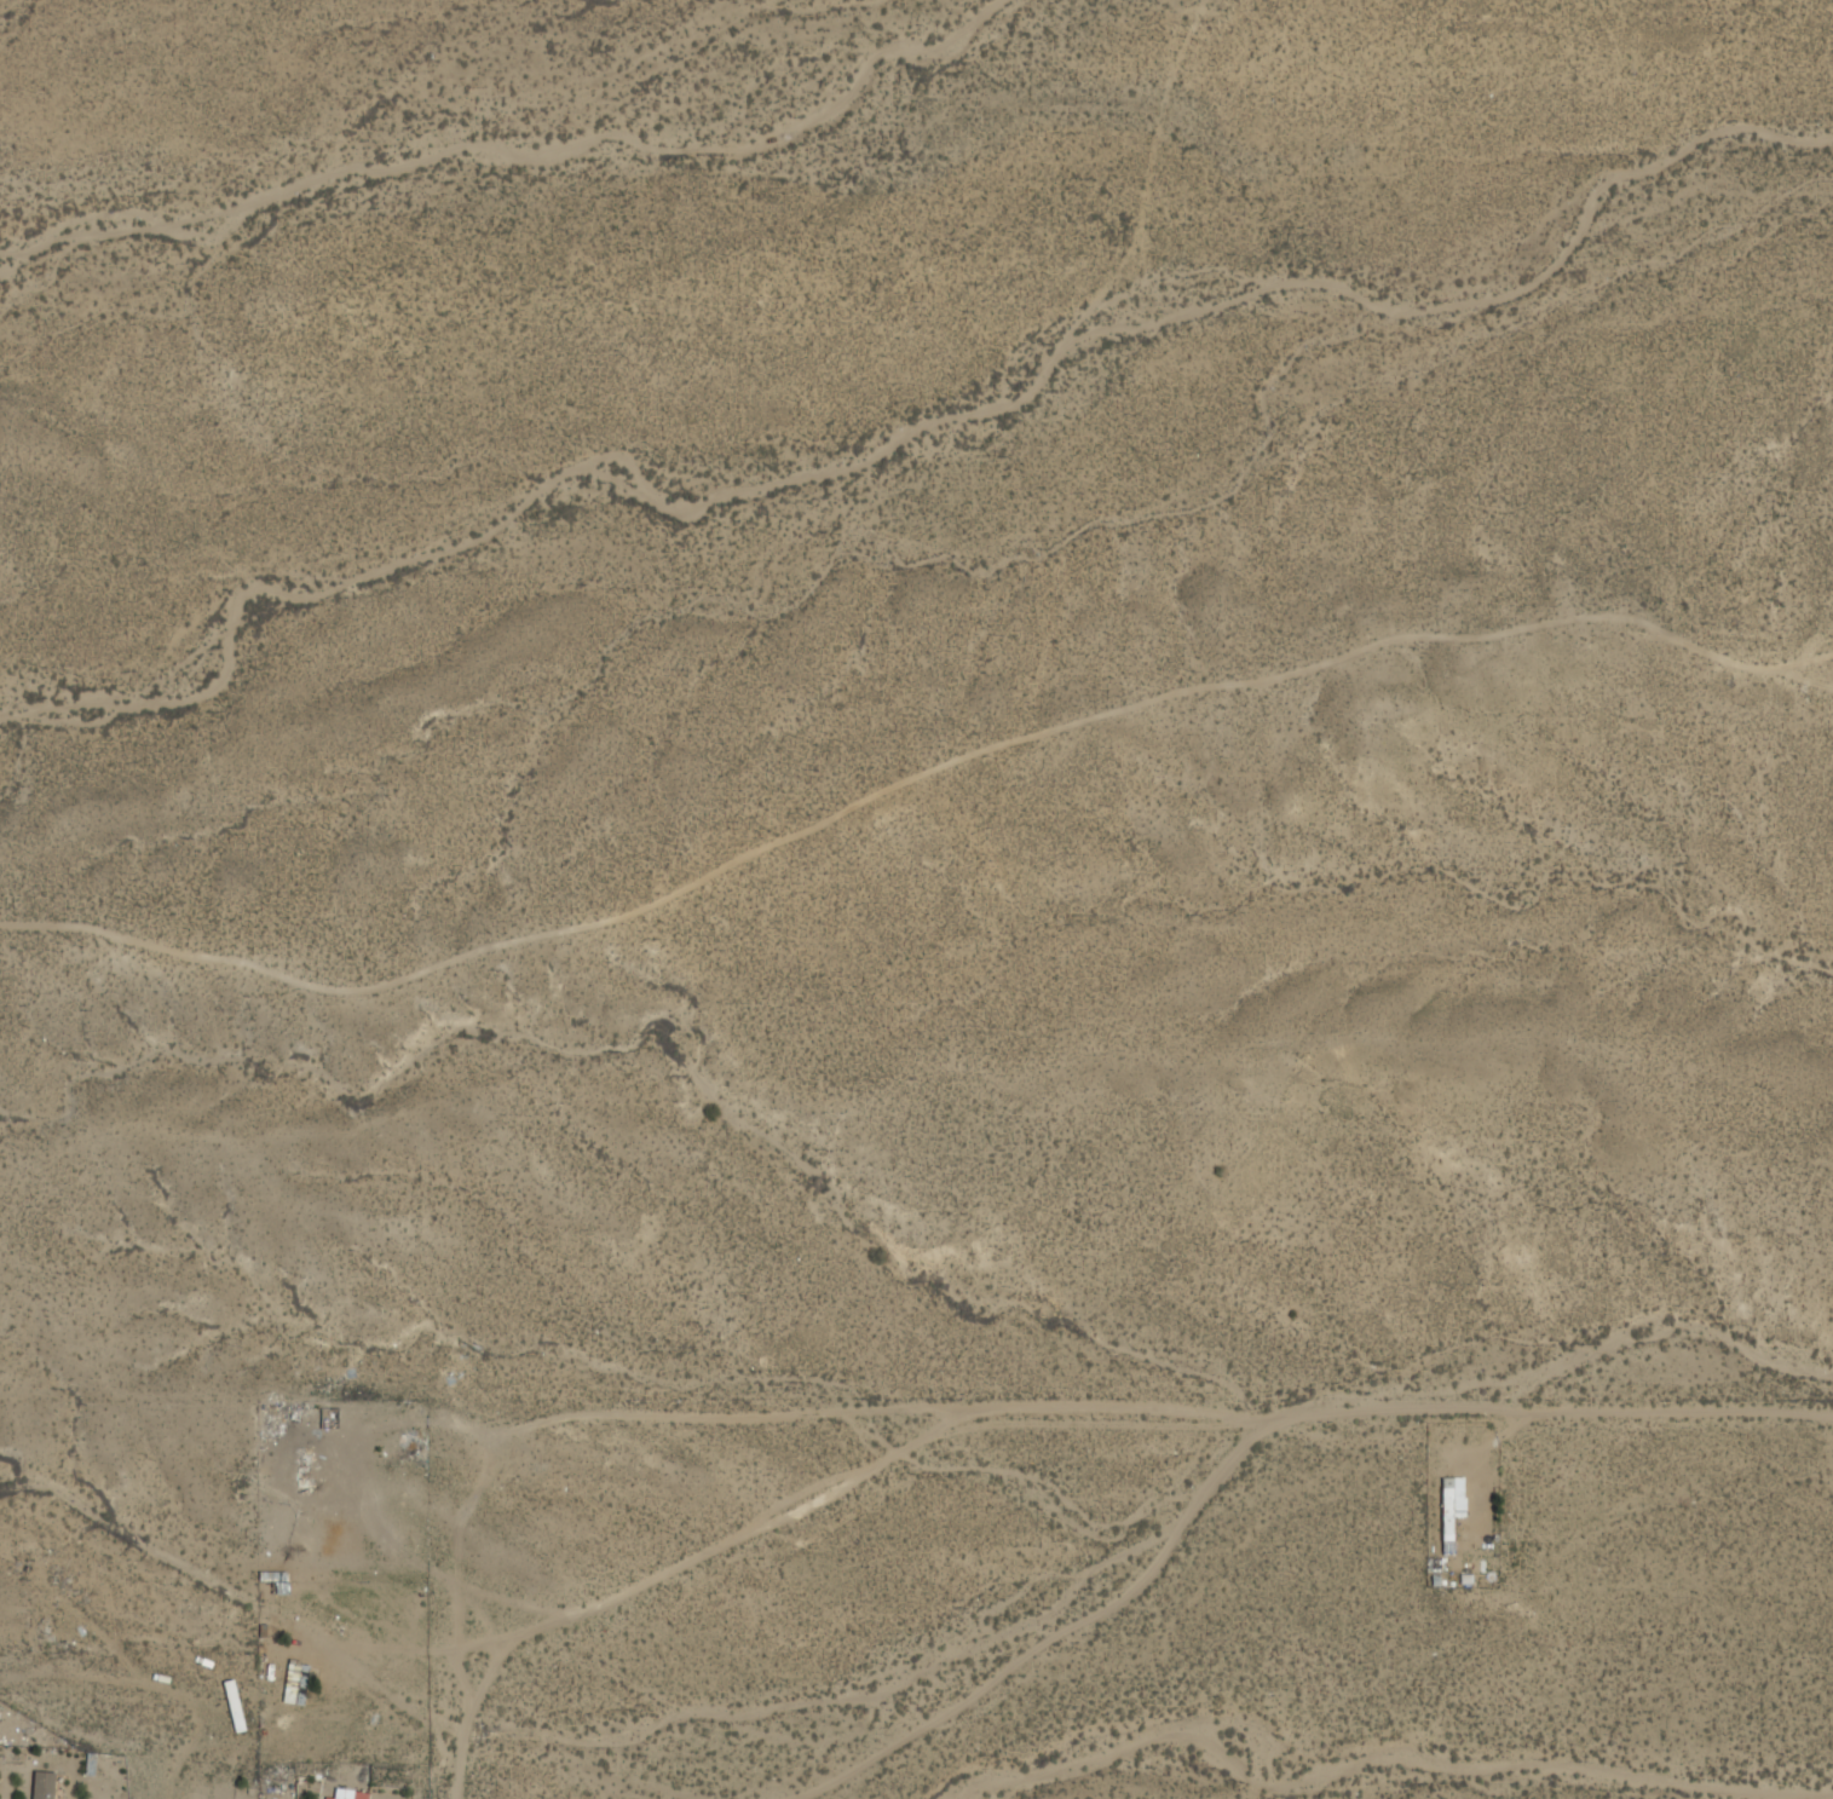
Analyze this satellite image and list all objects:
building: (240, 1696)

